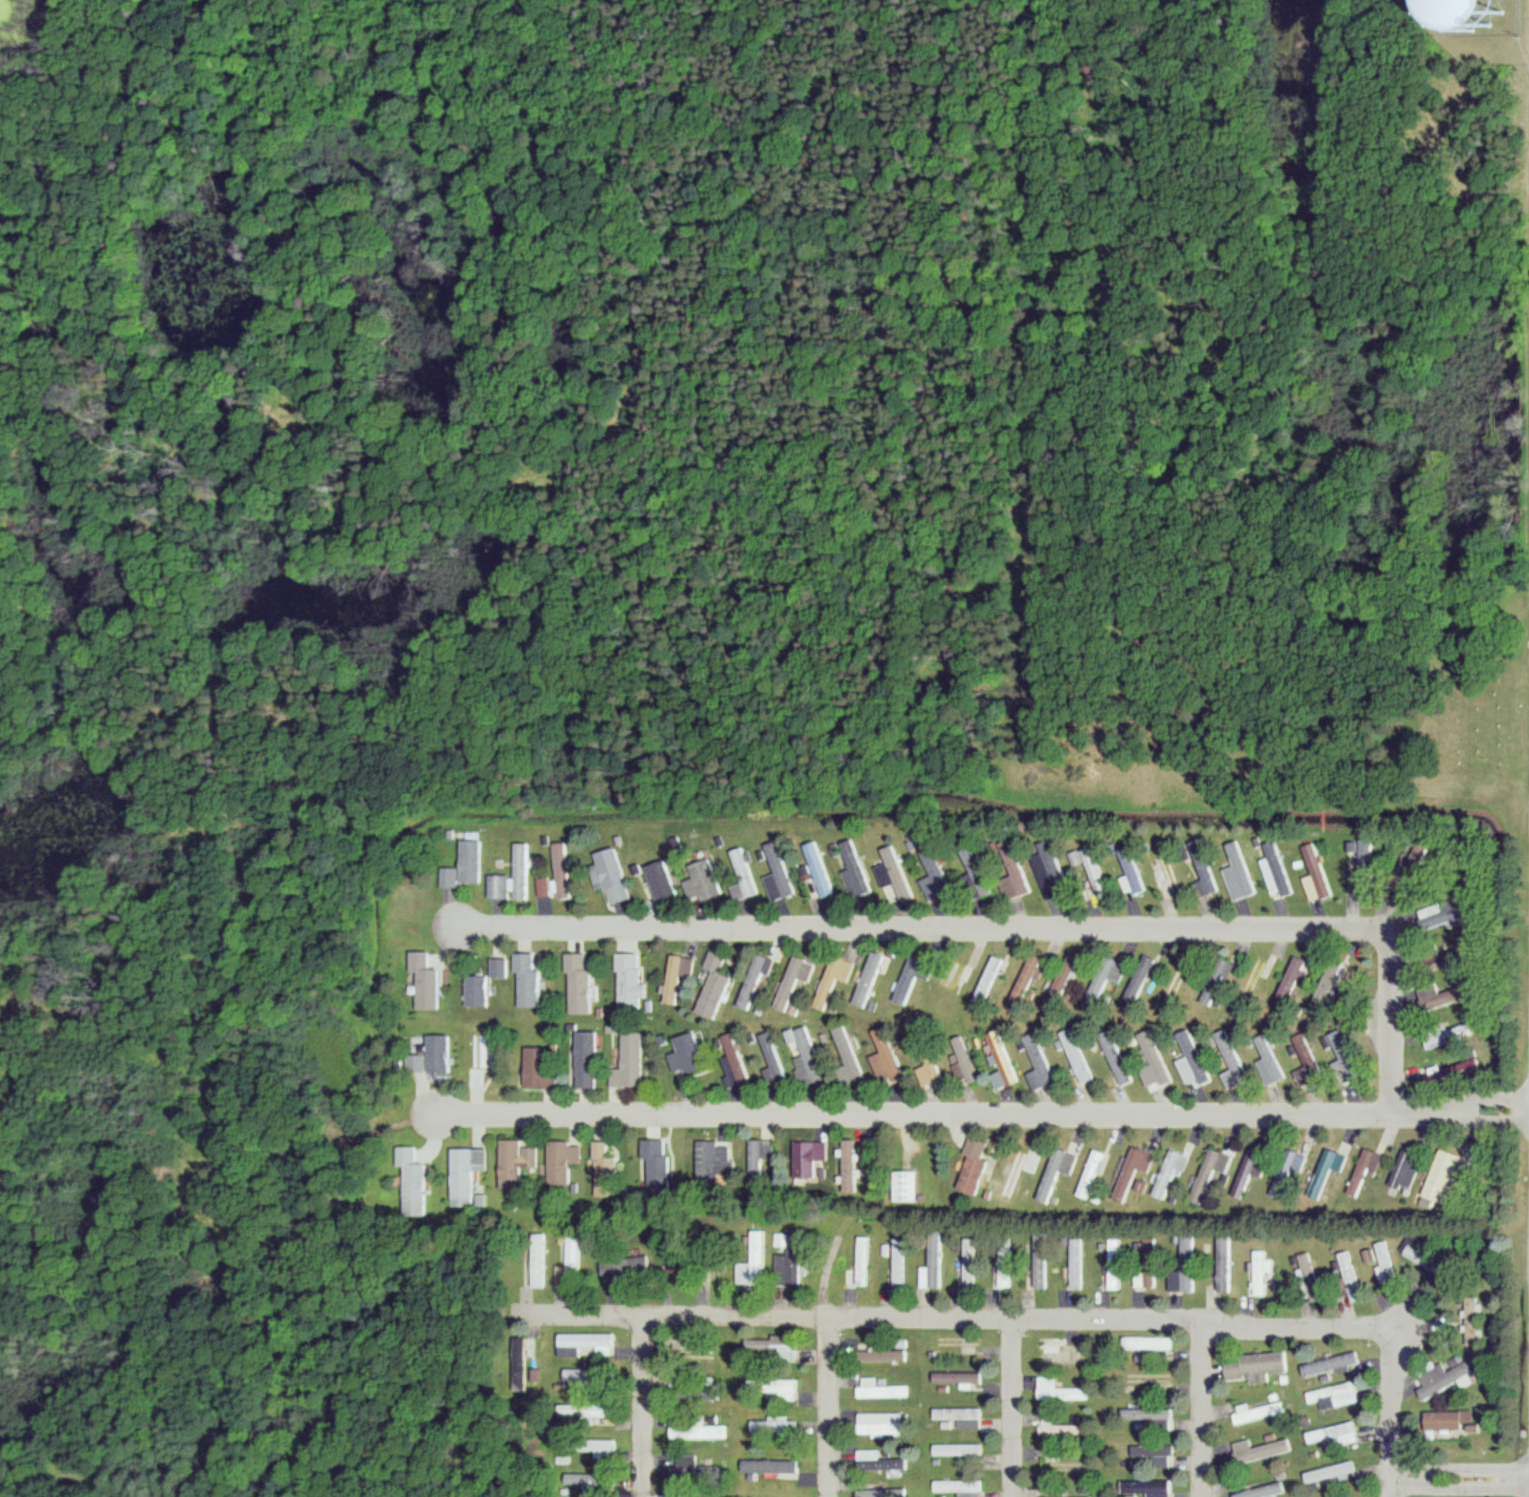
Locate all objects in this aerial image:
water tower: (1476, 4)
building: (1408, 9)
park: (1275, 734)
building: (472, 860)
building: (1087, 865)
building: (854, 866)
building: (890, 868)
building: (1010, 868)
building: (562, 869)
building: (1045, 869)
building: (820, 870)
building: (522, 871)
building: (969, 871)
building: (781, 873)
building: (1166, 873)
building: (1205, 874)
building: (616, 875)
building: (745, 876)
building: (1241, 876)
building: (1273, 878)
building: (663, 880)
building: (706, 881)
building: (1124, 883)
building: (500, 886)
building: (545, 886)
building: (933, 888)
building: (1439, 919)
road: (1009, 928)
building: (1448, 958)
building: (500, 967)
building: (838, 974)
building: (1179, 974)
building: (1108, 975)
building: (679, 976)
building: (1064, 976)
building: (1141, 976)
building: (1255, 976)
building: (798, 978)
building: (871, 978)
building: (529, 979)
building: (428, 980)
building: (581, 980)
building: (757, 980)
building: (987, 980)
building: (1294, 980)
building: (632, 981)
building: (1026, 981)
building: (1217, 981)
building: (716, 985)
building: (478, 990)
building: (1441, 994)
building: (1451, 1034)
building: (1339, 1050)
building: (808, 1054)
building: (850, 1054)
building: (690, 1055)
building: (483, 1056)
building: (1081, 1056)
building: (774, 1057)
building: (887, 1057)
building: (1158, 1057)
building: (434, 1058)
building: (589, 1058)
building: (1005, 1058)
building: (1193, 1059)
building: (1306, 1060)
building: (632, 1061)
building: (736, 1061)
building: (928, 1061)
building: (1271, 1061)
building: (966, 1063)
building: (1043, 1063)
building: (540, 1068)
building: (1232, 1079)
road: (979, 1112)
building: (656, 1149)
building: (760, 1156)
building: (811, 1157)
building: (565, 1160)
building: (518, 1161)
building: (714, 1161)
building: (1027, 1163)
building: (978, 1165)
building: (853, 1166)
building: (608, 1169)
building: (1406, 1169)
building: (1252, 1170)
building: (1060, 1172)
building: (468, 1173)
building: (1288, 1173)
building: (1326, 1173)
building: (1365, 1173)
building: (1096, 1174)
building: (1135, 1174)
building: (1172, 1174)
building: (1210, 1175)
building: (413, 1181)
building: (1441, 1182)
building: (908, 1185)
building: (788, 1254)
building: (760, 1257)
building: (935, 1259)
building: (865, 1260)
building: (1309, 1260)
building: (900, 1261)
building: (1044, 1261)
building: (1430, 1261)
building: (972, 1262)
building: (572, 1263)
building: (1079, 1263)
building: (1226, 1263)
building: (1387, 1263)
building: (1119, 1264)
building: (1008, 1267)
building: (1186, 1267)
building: (1263, 1272)
building: (1150, 1273)
building: (1353, 1276)
road: (675, 1315)
road: (1195, 1324)
building: (592, 1341)
building: (1153, 1343)
building: (768, 1345)
building: (887, 1353)
building: (1064, 1353)
building: (1350, 1359)
building: (1259, 1365)
building: (1446, 1376)
building: (960, 1377)
building: (591, 1379)
building: (883, 1388)
building: (791, 1389)
building: (1064, 1390)
building: (1335, 1394)
road: (641, 1406)
road: (828, 1407)
road: (1013, 1409)
building: (594, 1411)
road: (1203, 1411)
building: (1262, 1412)
building: (962, 1413)
building: (1151, 1415)
building: (1454, 1422)
building: (884, 1423)
building: (773, 1425)
building: (1067, 1428)
building: (700, 1432)
building: (1336, 1434)
building: (594, 1446)
building: (962, 1449)
building: (1264, 1449)
building: (1159, 1454)
building: (881, 1462)
building: (772, 1467)
road: (1460, 1476)
building: (962, 1486)
building: (1150, 1488)
building: (1266, 1490)

